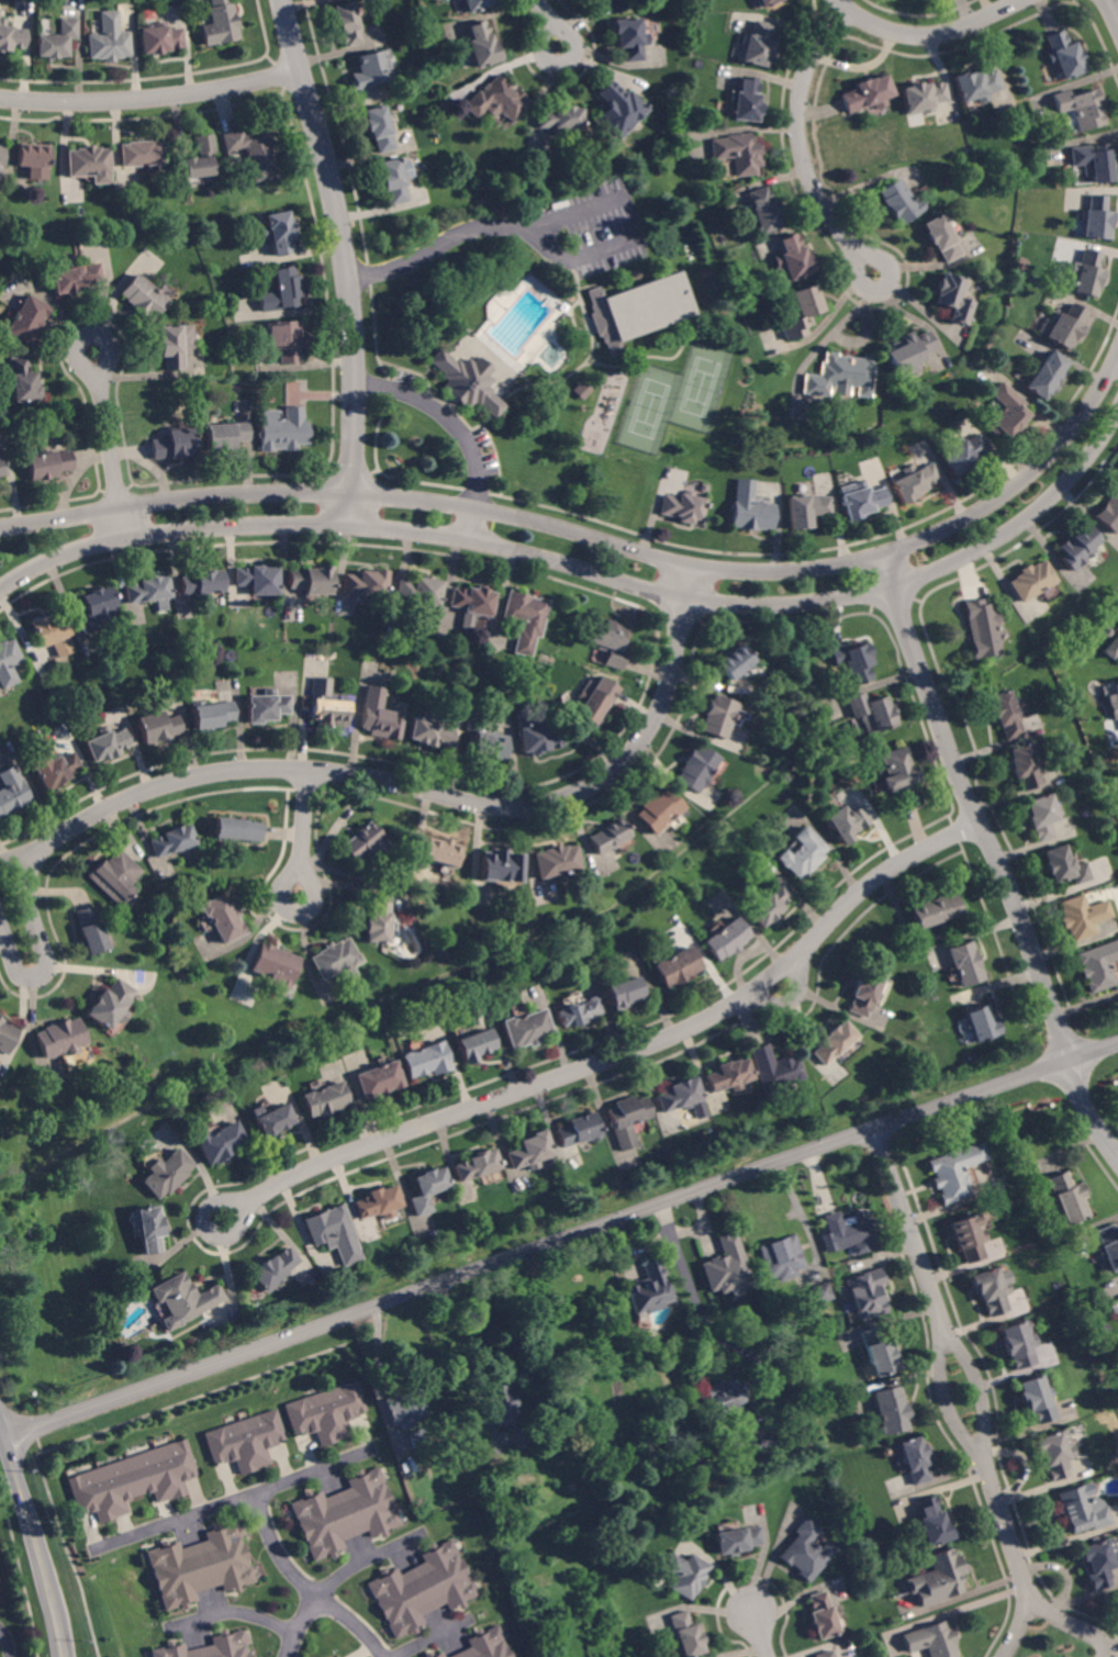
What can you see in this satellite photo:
building: (454, 0)
building: (456, 0)
building: (767, 2)
building: (476, 4)
building: (619, 4)
road: (1114, 8)
building: (347, 23)
road: (548, 23)
building: (221, 24)
road: (928, 35)
building: (11, 38)
building: (629, 38)
building: (110, 40)
building: (160, 40)
building: (57, 41)
building: (480, 45)
building: (756, 45)
building: (1063, 55)
building: (369, 70)
building: (976, 85)
building: (867, 94)
road: (150, 96)
building: (921, 97)
building: (497, 100)
building: (745, 100)
building: (1080, 107)
building: (616, 110)
building: (558, 119)
building: (378, 128)
road: (802, 145)
building: (737, 152)
building: (254, 153)
building: (142, 154)
building: (1, 156)
building: (201, 157)
building: (33, 158)
building: (89, 161)
building: (1093, 161)
building: (392, 180)
building: (899, 201)
building: (762, 211)
building: (1096, 219)
building: (278, 232)
building: (940, 237)
road: (552, 249)
road: (345, 258)
building: (791, 259)
building: (1086, 272)
building: (76, 278)
building: (282, 291)
building: (144, 298)
building: (951, 298)
building: (637, 309)
building: (800, 313)
building: (29, 318)
building: (1065, 326)
building: (286, 339)
building: (171, 347)
building: (907, 354)
building: (1044, 374)
building: (839, 376)
building: (22, 381)
building: (468, 382)
building: (580, 389)
building: (1004, 411)
road: (457, 429)
building: (284, 430)
building: (226, 435)
building: (176, 444)
road: (108, 446)
building: (961, 454)
building: (48, 464)
building: (3, 467)
building: (914, 482)
building: (702, 486)
building: (860, 500)
building: (681, 506)
building: (749, 508)
building: (806, 510)
building: (1108, 512)
road: (602, 541)
building: (1074, 547)
road: (588, 571)
building: (258, 580)
building: (1029, 580)
building: (312, 581)
building: (202, 583)
building: (366, 584)
building: (149, 591)
building: (420, 592)
building: (473, 602)
building: (97, 609)
building: (525, 619)
building: (981, 628)
building: (53, 634)
building: (608, 641)
building: (1111, 648)
building: (850, 660)
building: (8, 662)
building: (733, 662)
building: (49, 668)
building: (1114, 698)
building: (595, 703)
building: (327, 705)
building: (267, 706)
building: (869, 712)
building: (213, 715)
building: (1005, 715)
building: (378, 716)
building: (717, 716)
building: (157, 727)
building: (429, 731)
building: (537, 735)
building: (484, 741)
building: (107, 744)
building: (1024, 765)
building: (695, 768)
building: (54, 769)
road: (368, 776)
building: (898, 776)
building: (12, 792)
road: (972, 808)
building: (657, 809)
building: (1041, 816)
building: (847, 822)
building: (238, 829)
road: (303, 832)
building: (605, 836)
building: (175, 840)
building: (366, 843)
building: (440, 852)
building: (802, 853)
building: (556, 861)
building: (500, 866)
building: (1064, 866)
building: (116, 876)
building: (768, 905)
building: (936, 910)
building: (1083, 916)
building: (223, 918)
building: (378, 919)
building: (91, 930)
building: (728, 939)
building: (333, 958)
building: (966, 963)
building: (1098, 965)
building: (273, 966)
building: (678, 966)
building: (624, 993)
building: (865, 993)
building: (110, 1005)
building: (581, 1012)
building: (982, 1023)
building: (528, 1029)
building: (5, 1035)
building: (59, 1038)
building: (835, 1042)
building: (476, 1044)
road: (622, 1053)
building: (428, 1060)
building: (775, 1070)
building: (730, 1075)
building: (380, 1079)
building: (681, 1096)
building: (326, 1099)
road: (1089, 1108)
building: (627, 1119)
building: (273, 1120)
building: (579, 1130)
building: (223, 1142)
building: (530, 1151)
building: (477, 1165)
building: (954, 1172)
building: (169, 1173)
building: (428, 1189)
building: (1067, 1197)
building: (377, 1201)
building: (150, 1228)
building: (852, 1232)
building: (334, 1233)
building: (968, 1238)
road: (560, 1240)
building: (1108, 1246)
building: (782, 1257)
building: (729, 1267)
building: (275, 1268)
building: (652, 1289)
building: (990, 1290)
building: (823, 1292)
building: (867, 1295)
building: (185, 1299)
building: (1018, 1344)
building: (881, 1352)
road: (759, 1359)
road: (955, 1365)
building: (731, 1399)
building: (1037, 1399)
building: (503, 1404)
building: (406, 1409)
building: (892, 1411)
building: (327, 1413)
building: (421, 1437)
building: (522, 1437)
building: (246, 1442)
building: (737, 1445)
building: (1054, 1453)
building: (915, 1460)
building: (134, 1481)
road: (239, 1502)
building: (1081, 1511)
building: (346, 1514)
building: (522, 1514)
building: (930, 1524)
building: (738, 1540)
road: (37, 1541)
building: (806, 1550)
building: (1099, 1561)
building: (202, 1567)
building: (686, 1575)
building: (941, 1579)
road: (339, 1582)
road: (304, 1587)
building: (424, 1589)
road: (234, 1610)
building: (824, 1615)
road: (1071, 1627)
road: (1016, 1631)
road: (760, 1633)
building: (686, 1635)
road: (7, 1641)
building: (932, 1641)
building: (488, 1645)
building: (210, 1647)
building: (826, 1654)
building: (436, 1655)
building: (336, 1656)

